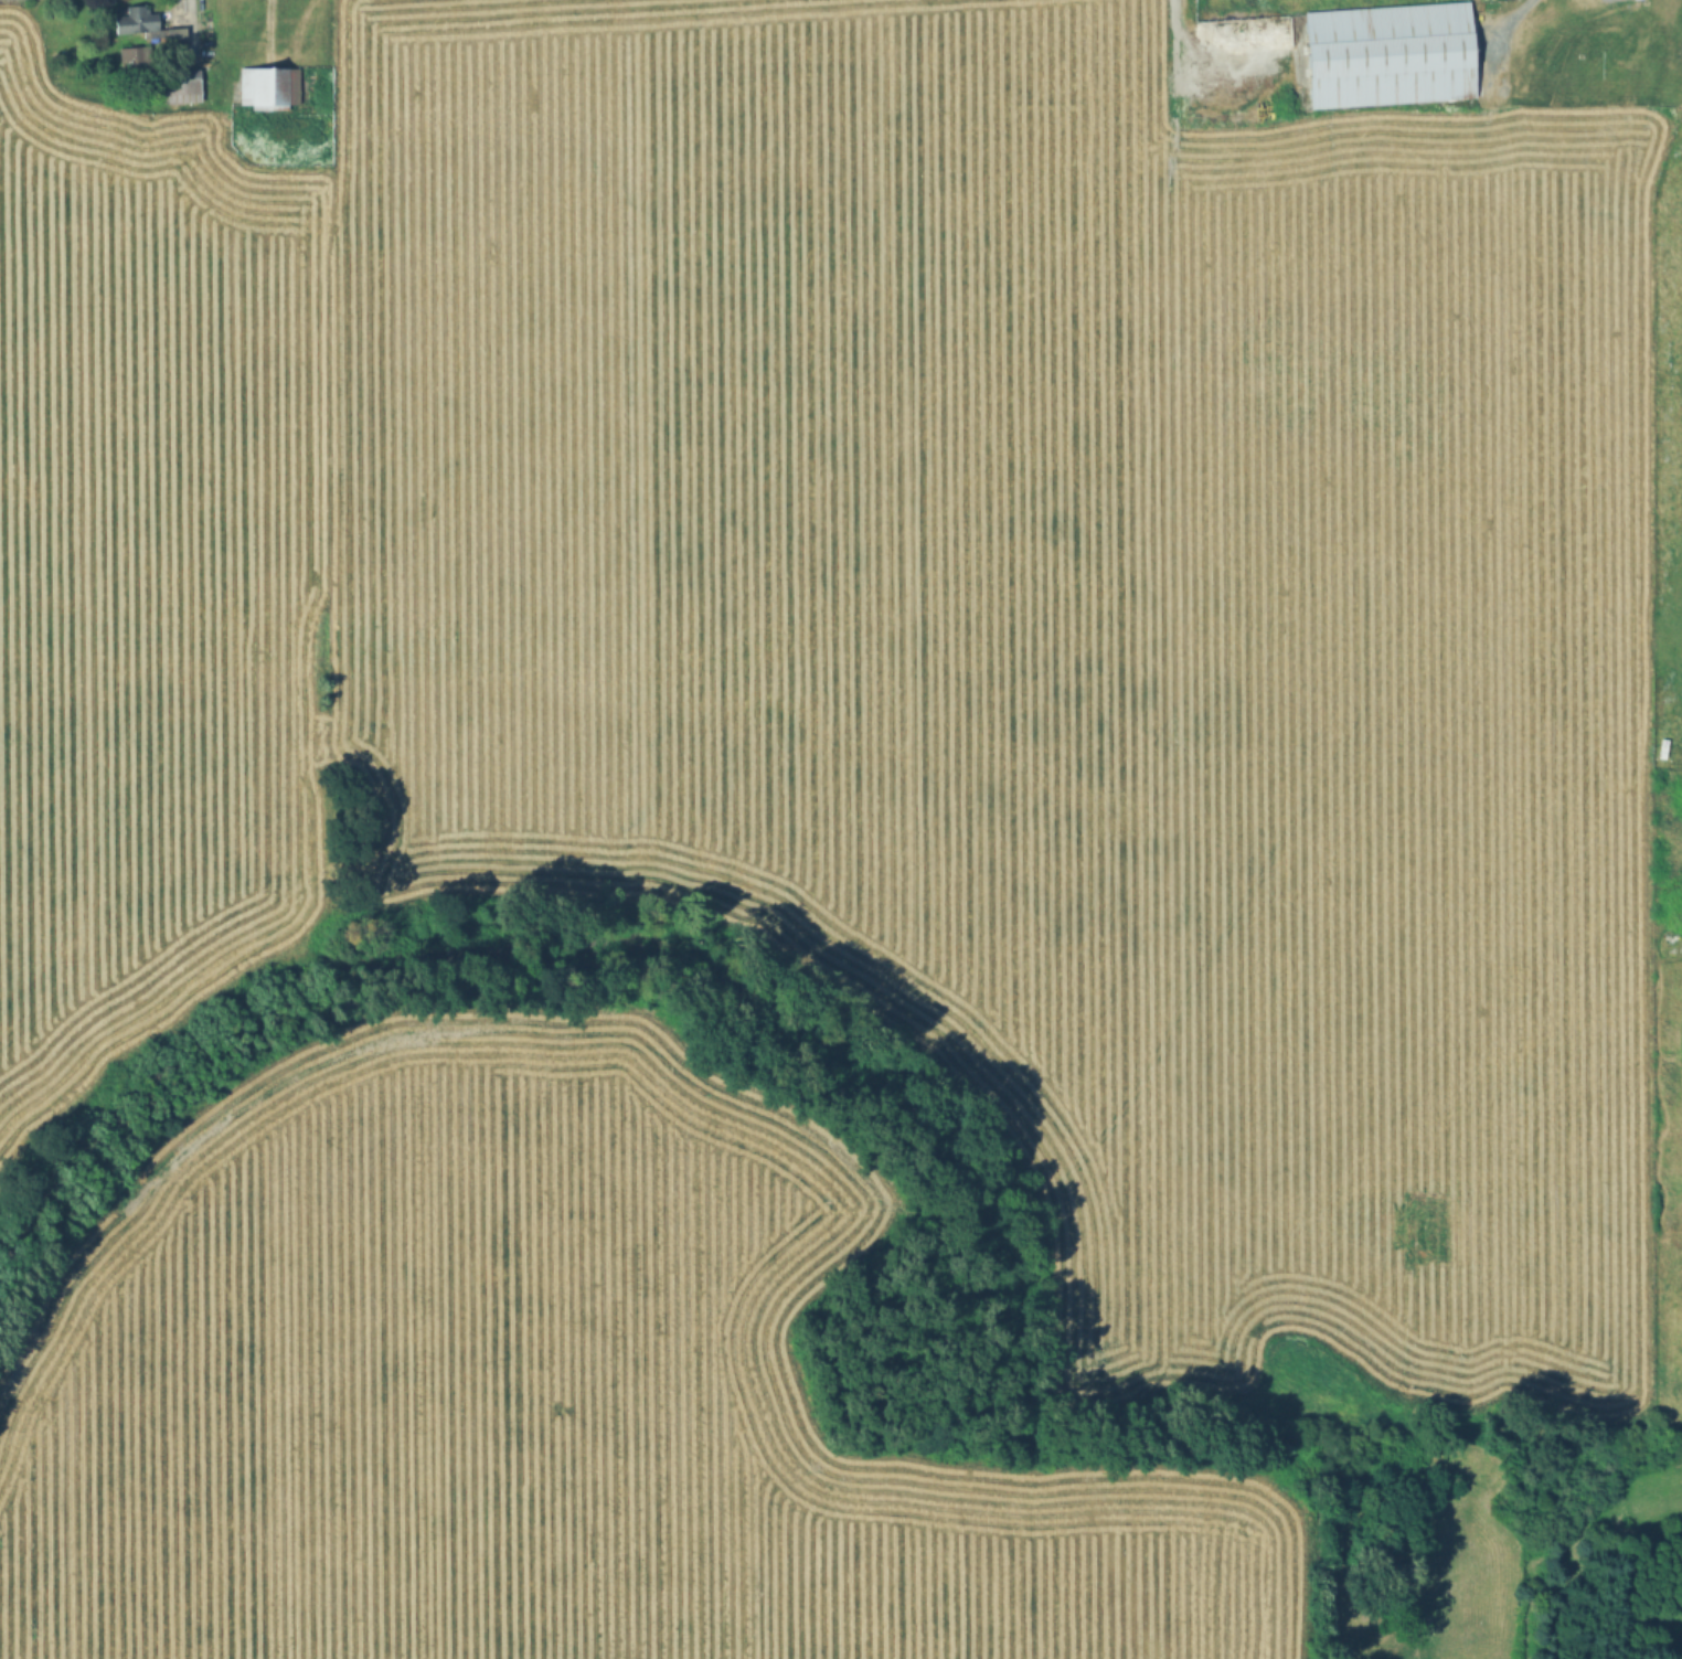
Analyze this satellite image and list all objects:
road: (1510, 13)
building: (1679, 17)
building: (141, 26)
building: (1619, 33)
road: (1179, 45)
building: (1384, 55)
building: (129, 61)
building: (183, 87)
building: (268, 89)
building: (1629, 121)
building: (1558, 142)
crop: (803, 830)

